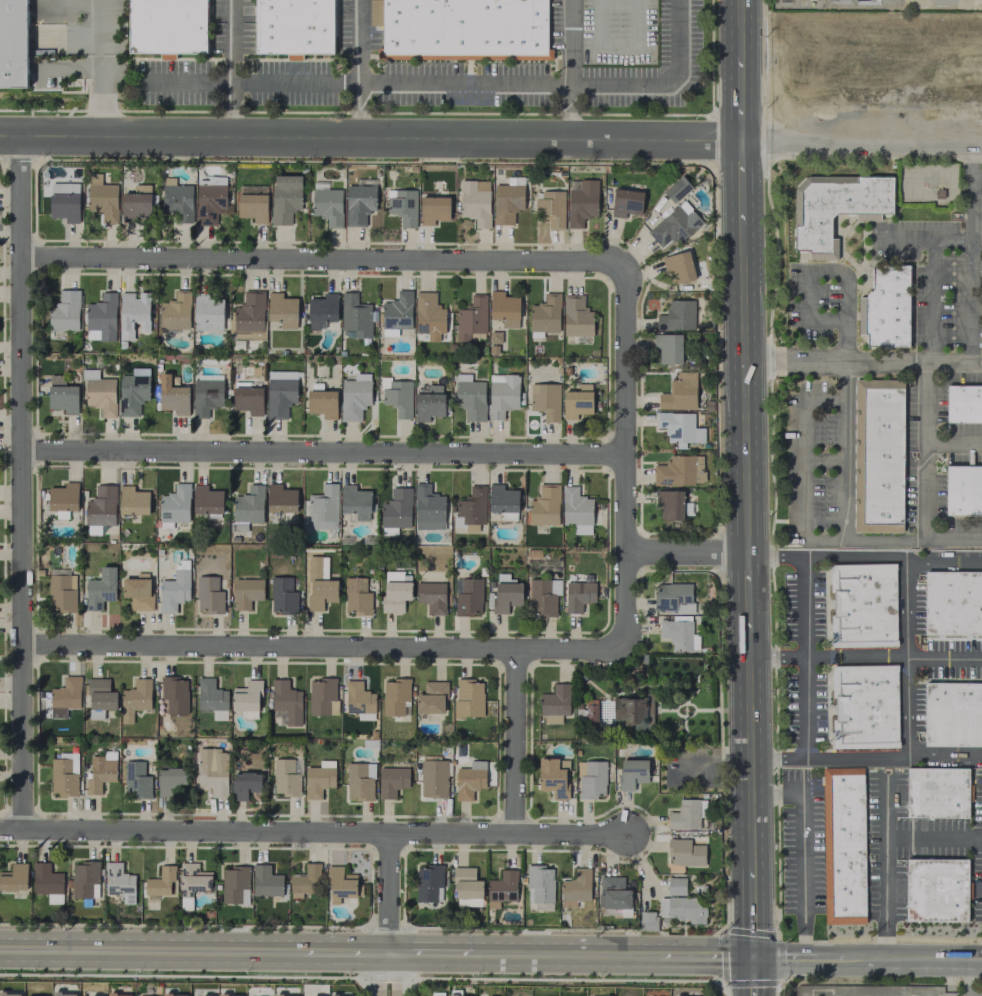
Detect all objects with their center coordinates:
building: (376, 12)
building: (166, 26)
building: (294, 26)
road: (739, 27)
building: (464, 28)
building: (14, 43)
road: (101, 69)
road: (231, 70)
road: (357, 70)
road: (571, 70)
road: (449, 84)
road: (739, 97)
road: (369, 140)
road: (860, 144)
road: (976, 180)
road: (739, 182)
building: (676, 188)
building: (285, 198)
building: (177, 200)
building: (102, 201)
building: (210, 201)
building: (507, 201)
building: (581, 201)
building: (64, 202)
building: (475, 202)
building: (136, 203)
building: (626, 203)
building: (359, 204)
building: (328, 206)
building: (402, 206)
building: (252, 207)
building: (836, 207)
building: (552, 208)
building: (433, 210)
building: (675, 225)
road: (969, 253)
road: (322, 261)
building: (679, 266)
road: (975, 270)
road: (827, 273)
road: (935, 300)
building: (885, 307)
building: (504, 309)
building: (282, 310)
building: (322, 310)
building: (176, 312)
building: (208, 312)
building: (133, 313)
building: (250, 313)
building: (64, 314)
building: (397, 314)
building: (428, 314)
building: (545, 315)
building: (677, 316)
building: (355, 317)
building: (576, 317)
building: (101, 318)
building: (471, 318)
building: (668, 348)
road: (861, 360)
road: (742, 389)
building: (679, 392)
building: (100, 394)
building: (132, 394)
building: (502, 394)
building: (62, 395)
building: (173, 396)
building: (354, 396)
building: (397, 396)
building: (206, 397)
building: (280, 397)
building: (470, 397)
building: (247, 399)
building: (545, 400)
building: (322, 401)
building: (577, 402)
building: (429, 403)
building: (964, 404)
road: (624, 410)
road: (955, 447)
road: (928, 450)
road: (323, 454)
building: (878, 455)
building: (679, 471)
road: (23, 486)
building: (964, 489)
building: (63, 499)
building: (281, 499)
building: (207, 500)
building: (133, 501)
building: (356, 502)
building: (503, 502)
building: (670, 505)
building: (101, 506)
building: (174, 506)
building: (544, 506)
building: (323, 507)
building: (428, 508)
building: (247, 509)
building: (470, 510)
building: (576, 510)
building: (396, 511)
road: (845, 518)
road: (904, 558)
road: (942, 564)
building: (319, 584)
building: (174, 588)
building: (100, 589)
building: (62, 590)
building: (395, 591)
road: (746, 591)
building: (137, 593)
building: (246, 593)
building: (506, 594)
building: (209, 595)
building: (282, 595)
building: (357, 596)
building: (578, 596)
building: (432, 597)
building: (543, 597)
building: (469, 598)
building: (674, 598)
building: (953, 603)
building: (863, 605)
road: (806, 627)
building: (679, 634)
road: (432, 650)
road: (944, 659)
building: (66, 694)
building: (173, 695)
building: (323, 697)
building: (396, 697)
building: (100, 698)
building: (247, 698)
building: (431, 698)
building: (468, 698)
building: (135, 699)
building: (286, 701)
building: (360, 701)
building: (555, 704)
road: (907, 705)
building: (864, 707)
building: (342, 708)
building: (591, 710)
building: (633, 711)
building: (953, 714)
road: (515, 743)
road: (749, 746)
road: (945, 755)
building: (212, 771)
building: (632, 773)
building: (64, 775)
building: (286, 777)
building: (553, 777)
building: (433, 778)
building: (318, 779)
building: (591, 779)
building: (470, 780)
building: (136, 781)
building: (170, 781)
building: (359, 781)
building: (392, 781)
building: (244, 785)
building: (936, 792)
road: (776, 796)
building: (687, 814)
road: (496, 815)
road: (311, 834)
road: (933, 835)
building: (843, 845)
building: (685, 853)
road: (884, 870)
road: (803, 872)
building: (14, 878)
building: (85, 880)
building: (304, 881)
building: (119, 882)
building: (161, 882)
building: (265, 882)
building: (47, 883)
building: (192, 883)
building: (430, 883)
building: (340, 884)
building: (235, 885)
building: (540, 885)
building: (676, 886)
building: (467, 887)
building: (502, 888)
building: (576, 888)
building: (936, 889)
road: (389, 890)
building: (613, 893)
building: (683, 909)
road: (752, 910)
building: (648, 921)
road: (150, 945)
road: (345, 946)
road: (431, 947)
road: (565, 950)
road: (705, 954)
traffic signals: (753, 955)
road: (788, 959)
road: (902, 960)
road: (389, 971)
road: (753, 975)
road: (968, 978)
road: (773, 983)
building: (10, 994)
building: (63, 994)
building: (119, 995)
building: (174, 995)
building: (203, 995)
building: (229, 995)
building: (280, 995)
building: (457, 995)

